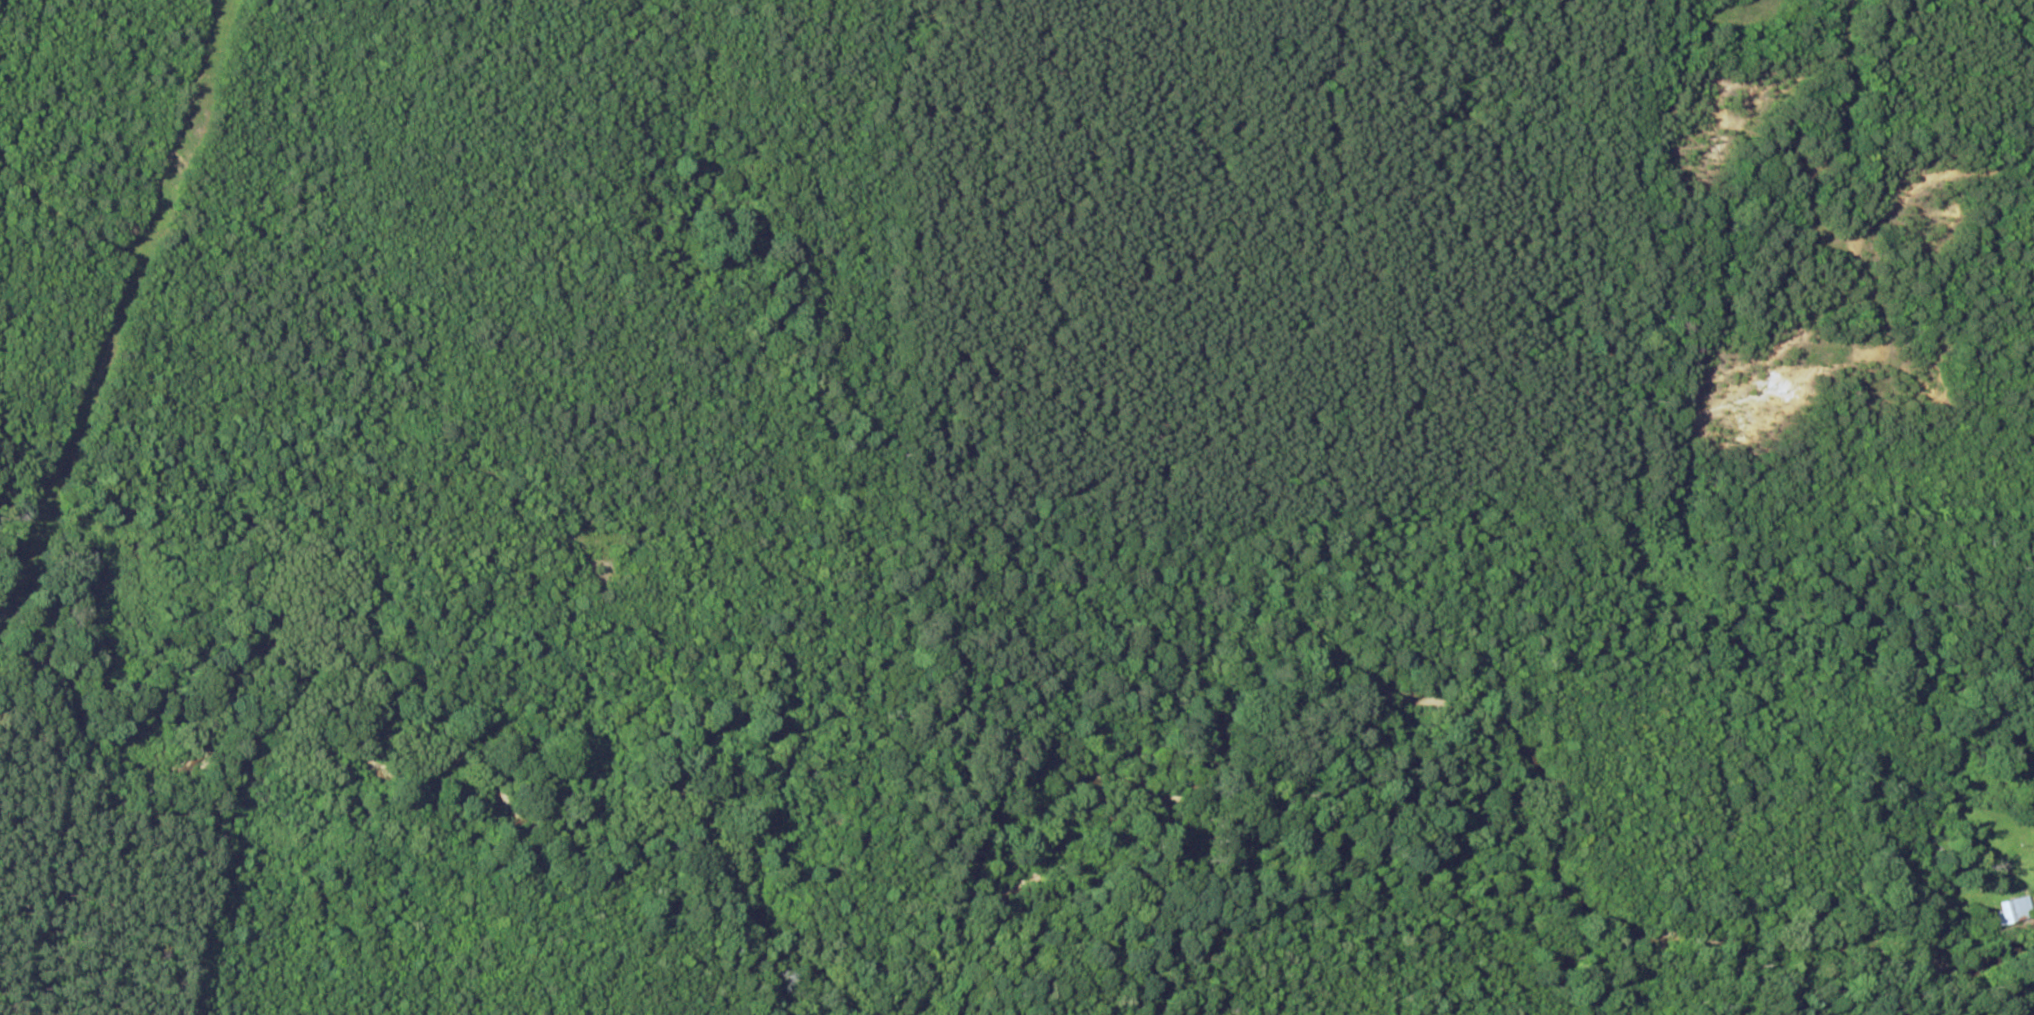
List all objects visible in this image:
road: (1934, 193)
building: (2014, 907)

